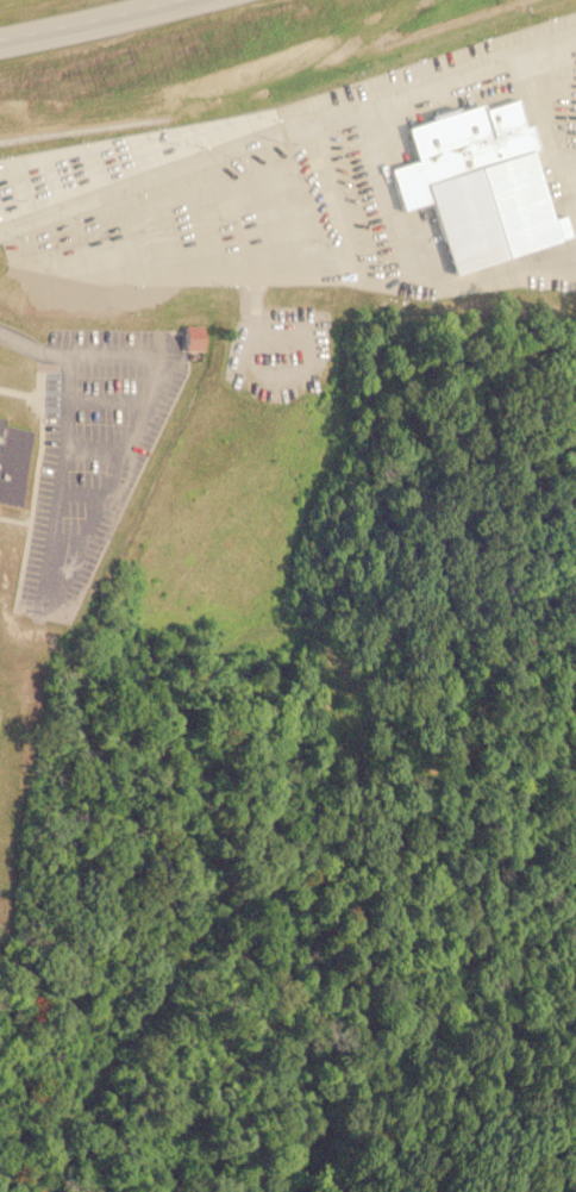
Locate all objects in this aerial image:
road: (120, 26)
building: (484, 181)
road: (99, 195)
building: (14, 461)

